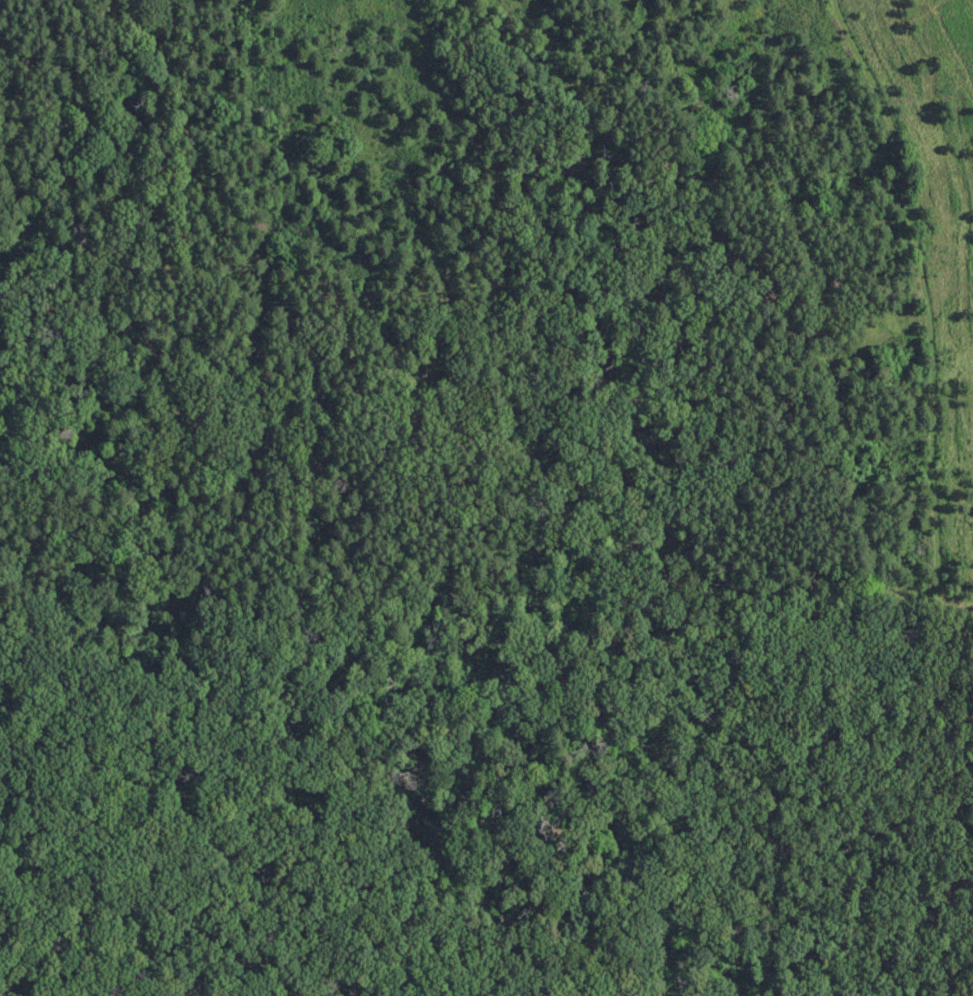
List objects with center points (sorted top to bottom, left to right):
road: (365, 906)

